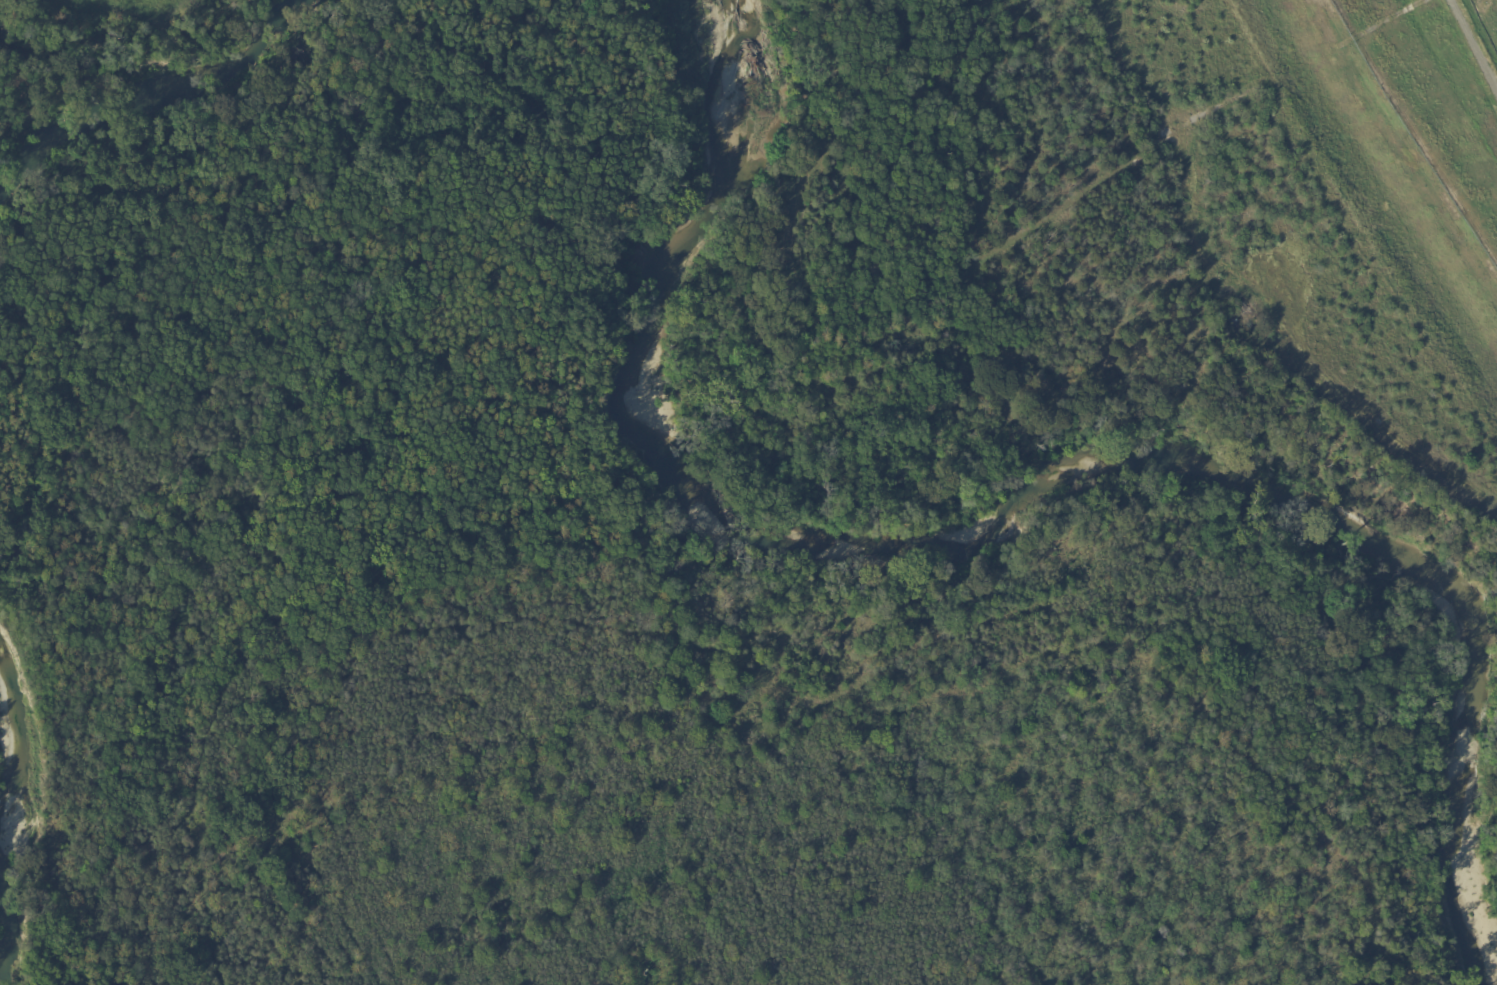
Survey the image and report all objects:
road: (1472, 46)
road: (1310, 68)
river: (151, 92)
river: (961, 551)
river: (3, 781)

